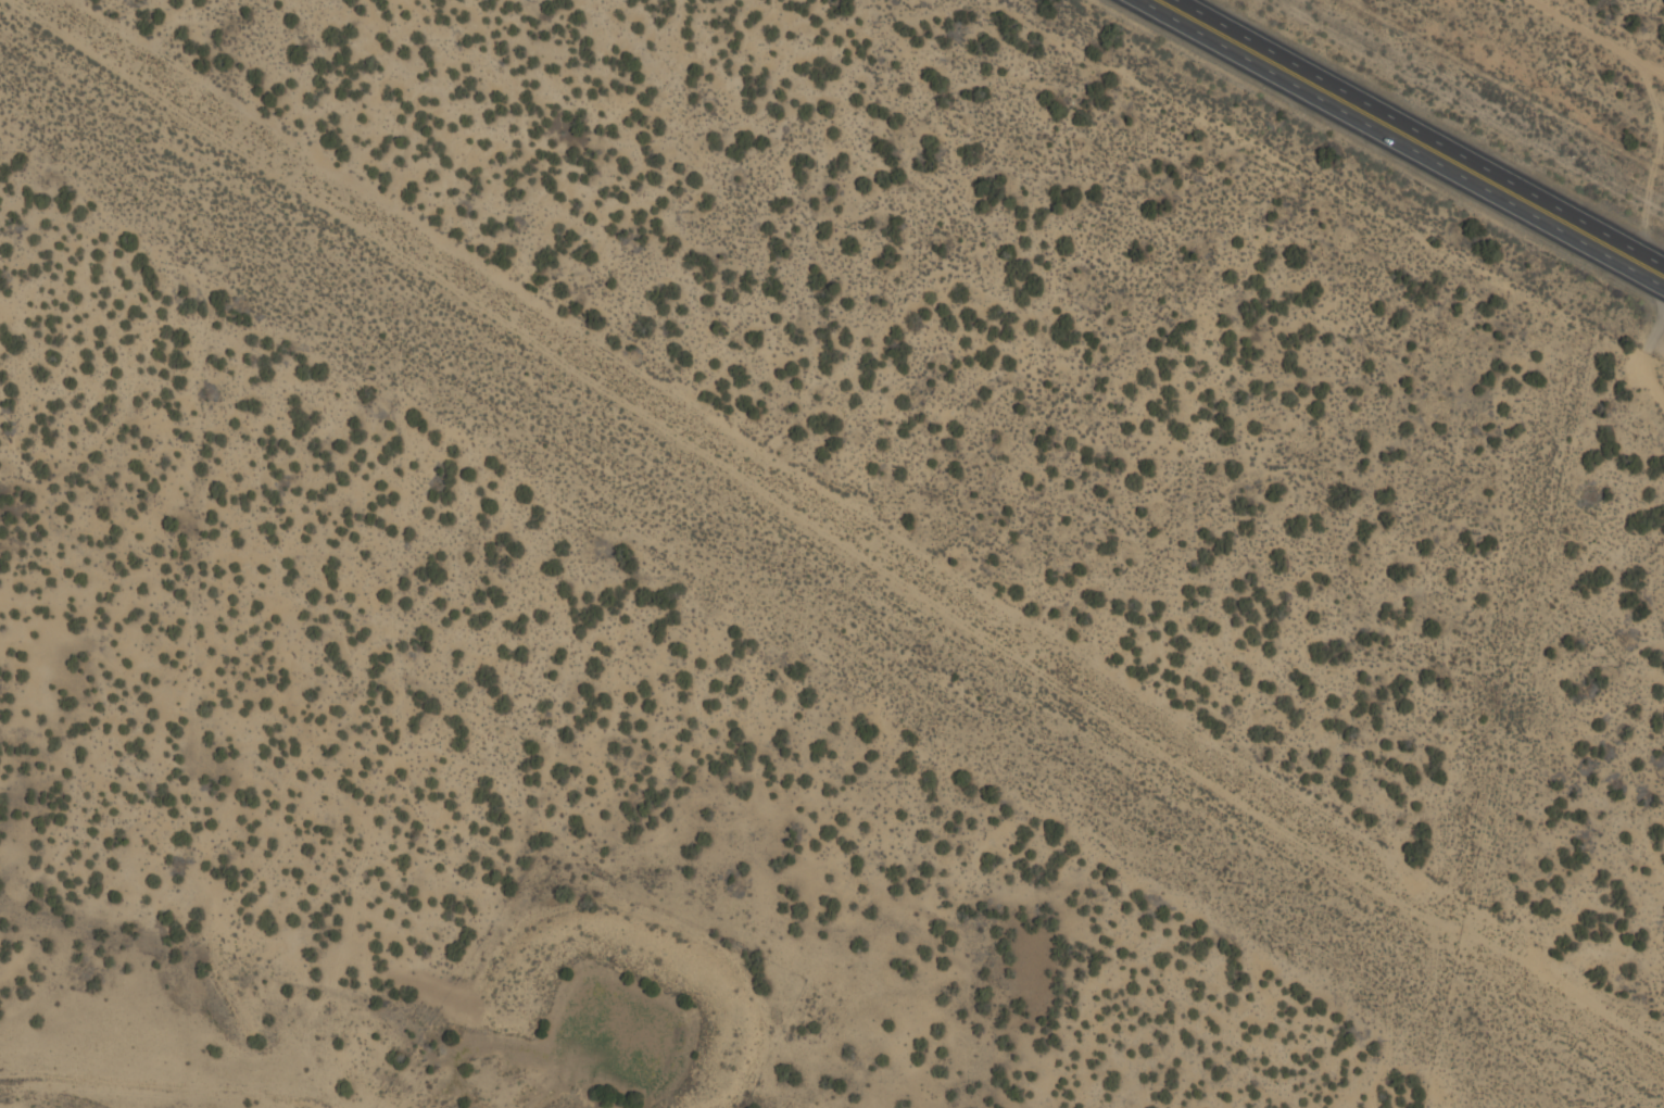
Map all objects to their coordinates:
road: (1419, 134)
road: (1397, 144)
road: (1651, 362)
building: (630, 1065)

